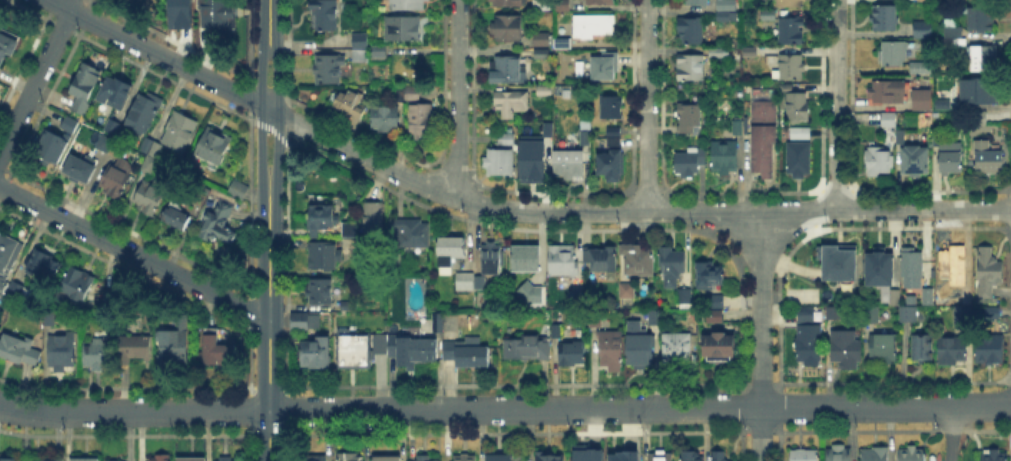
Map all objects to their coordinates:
building: (924, 1)
building: (600, 2)
building: (697, 2)
building: (508, 3)
building: (789, 3)
building: (538, 4)
building: (410, 5)
building: (563, 5)
building: (726, 10)
building: (217, 16)
building: (326, 16)
building: (766, 16)
building: (884, 19)
building: (981, 20)
road: (270, 22)
building: (0, 26)
building: (594, 27)
building: (919, 27)
building: (404, 28)
building: (508, 30)
building: (791, 31)
building: (692, 32)
building: (952, 34)
building: (541, 39)
building: (358, 40)
building: (562, 43)
building: (5, 48)
building: (891, 51)
building: (751, 52)
building: (378, 53)
building: (720, 53)
building: (543, 54)
building: (361, 55)
building: (983, 56)
building: (792, 66)
building: (918, 66)
building: (605, 68)
building: (691, 69)
building: (329, 70)
building: (508, 72)
road: (36, 77)
building: (85, 88)
building: (787, 88)
building: (885, 90)
building: (976, 90)
building: (545, 92)
building: (399, 94)
building: (412, 94)
building: (114, 95)
building: (918, 98)
road: (458, 99)
building: (348, 101)
building: (511, 103)
road: (646, 105)
road: (837, 105)
building: (798, 106)
building: (612, 108)
building: (144, 112)
road: (261, 112)
road: (278, 112)
building: (765, 114)
building: (384, 117)
building: (980, 117)
building: (689, 121)
building: (889, 121)
building: (420, 123)
building: (70, 128)
building: (545, 128)
building: (737, 128)
building: (179, 131)
building: (613, 131)
building: (800, 134)
building: (900, 139)
building: (502, 140)
building: (101, 142)
building: (614, 142)
building: (51, 147)
building: (213, 148)
building: (149, 149)
building: (764, 154)
building: (725, 157)
building: (799, 159)
building: (987, 160)
building: (951, 161)
building: (878, 162)
building: (534, 163)
building: (500, 164)
building: (569, 164)
building: (688, 164)
building: (916, 164)
building: (611, 167)
building: (79, 169)
building: (115, 182)
building: (239, 192)
building: (149, 197)
road: (507, 209)
building: (370, 213)
building: (318, 215)
building: (177, 216)
building: (220, 223)
building: (346, 227)
building: (411, 233)
road: (132, 253)
building: (450, 253)
building: (325, 257)
building: (8, 258)
building: (526, 259)
building: (601, 259)
building: (493, 260)
building: (563, 261)
building: (393, 262)
building: (638, 262)
building: (837, 263)
building: (913, 264)
building: (956, 264)
building: (43, 265)
building: (879, 265)
building: (672, 267)
building: (989, 272)
building: (711, 276)
building: (466, 283)
building: (480, 283)
building: (76, 286)
building: (16, 291)
building: (626, 291)
building: (320, 292)
building: (531, 295)
building: (967, 297)
building: (685, 298)
building: (894, 299)
building: (926, 299)
building: (660, 301)
building: (717, 302)
building: (345, 308)
building: (989, 310)
building: (832, 313)
building: (711, 314)
building: (810, 315)
building: (909, 315)
building: (962, 315)
building: (630, 316)
building: (875, 316)
building: (715, 319)
road: (266, 320)
building: (194, 321)
building: (180, 322)
building: (303, 324)
building: (436, 324)
building: (555, 329)
road: (760, 335)
building: (377, 342)
building: (811, 345)
building: (173, 348)
building: (409, 348)
building: (677, 348)
building: (922, 348)
building: (135, 349)
building: (351, 349)
building: (527, 349)
building: (883, 349)
building: (18, 350)
building: (216, 350)
building: (718, 350)
building: (845, 350)
building: (611, 351)
building: (952, 352)
building: (990, 352)
building: (641, 353)
building: (61, 354)
building: (100, 355)
building: (467, 355)
building: (572, 355)
building: (310, 357)
road: (639, 408)
road: (133, 411)
road: (951, 433)
building: (585, 452)
building: (839, 453)
building: (912, 453)
building: (805, 454)
building: (875, 454)
building: (621, 455)
building: (661, 455)
building: (991, 456)
building: (350, 457)
building: (693, 457)
building: (721, 457)
building: (159, 458)
building: (386, 458)
building: (465, 458)
building: (501, 458)
building: (550, 458)
building: (85, 459)
building: (313, 459)
building: (8, 460)
building: (46, 460)
building: (116, 460)
building: (193, 460)
building: (227, 460)
building: (428, 460)

